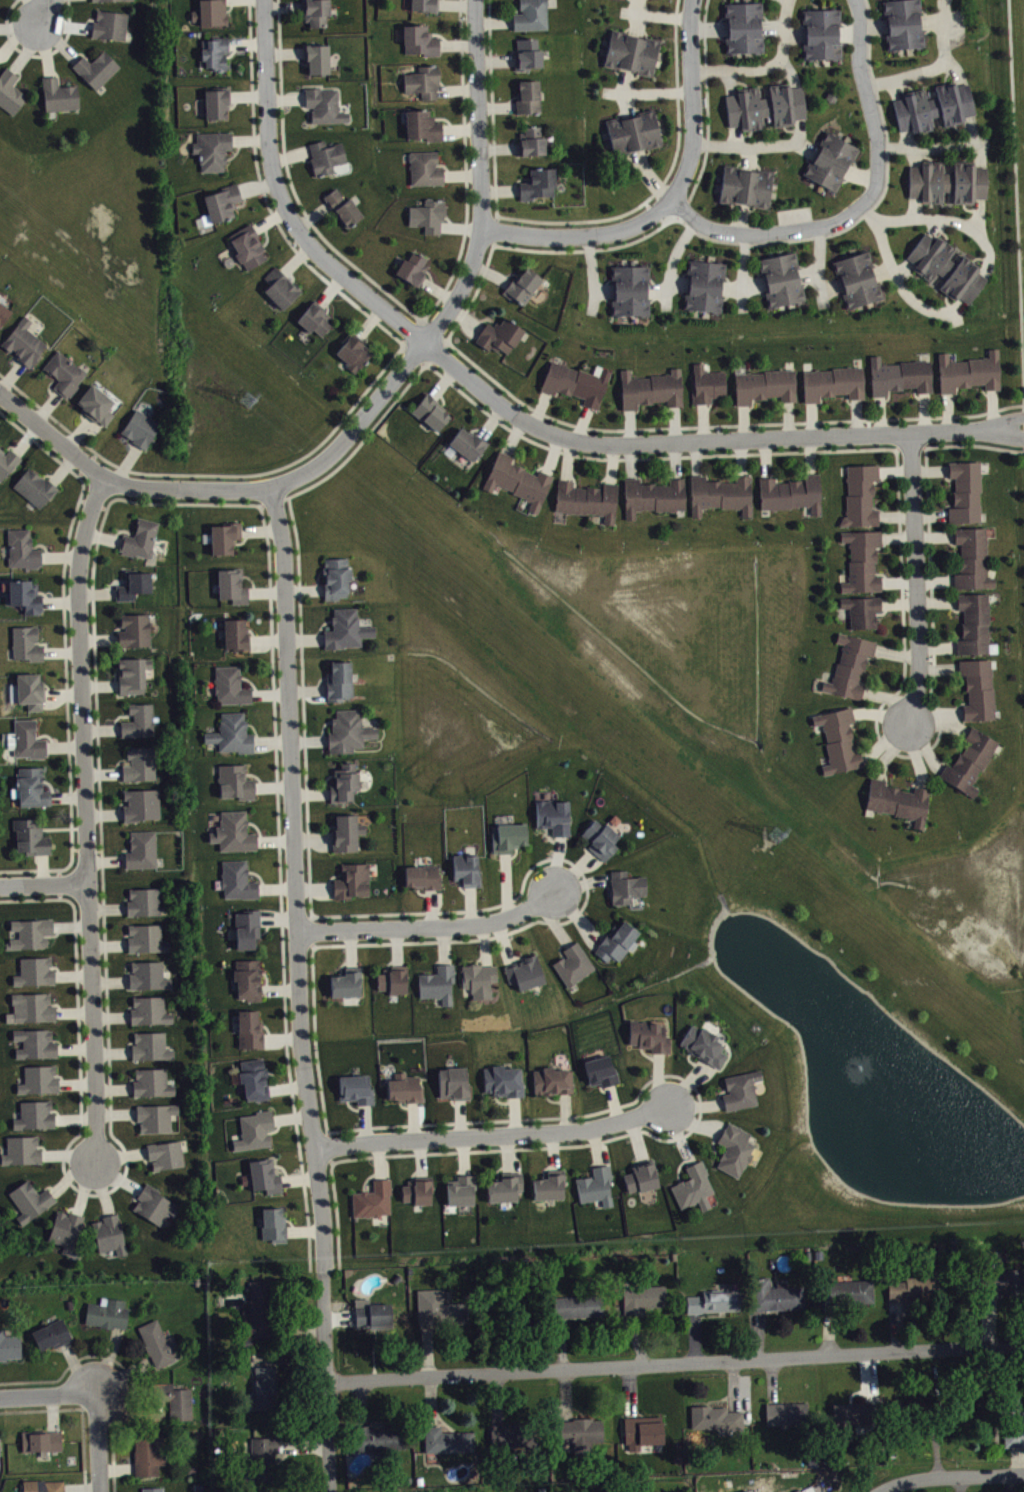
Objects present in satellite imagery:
building: (115, 2)
building: (424, 5)
road: (45, 10)
building: (315, 11)
building: (210, 12)
building: (530, 15)
road: (655, 15)
road: (636, 17)
road: (931, 22)
building: (902, 23)
building: (109, 24)
road: (873, 24)
building: (743, 25)
road: (708, 26)
road: (772, 27)
building: (820, 33)
road: (849, 33)
road: (793, 34)
building: (419, 39)
building: (214, 51)
building: (631, 51)
building: (527, 53)
road: (36, 54)
building: (316, 57)
road: (766, 65)
building: (95, 67)
road: (933, 67)
road: (790, 69)
road: (955, 69)
road: (626, 79)
building: (422, 80)
road: (730, 81)
road: (896, 88)
building: (10, 90)
road: (640, 91)
building: (58, 94)
building: (528, 96)
building: (216, 101)
road: (627, 103)
building: (324, 104)
building: (765, 105)
road: (707, 106)
building: (933, 106)
building: (422, 124)
road: (971, 128)
building: (633, 131)
road: (905, 138)
building: (531, 141)
road: (743, 146)
road: (756, 146)
road: (806, 146)
road: (933, 147)
building: (211, 149)
road: (979, 153)
building: (325, 156)
road: (915, 156)
building: (830, 160)
building: (424, 167)
road: (862, 173)
road: (650, 176)
building: (947, 181)
building: (538, 182)
building: (744, 185)
road: (672, 197)
building: (221, 202)
road: (863, 202)
road: (872, 205)
building: (342, 207)
building: (428, 214)
road: (979, 216)
road: (739, 218)
road: (945, 219)
road: (571, 220)
road: (934, 226)
road: (480, 232)
building: (247, 245)
road: (672, 260)
road: (818, 265)
road: (903, 265)
building: (946, 267)
building: (412, 268)
road: (984, 269)
road: (742, 272)
road: (593, 273)
road: (808, 273)
road: (897, 276)
building: (781, 278)
building: (857, 278)
road: (677, 284)
building: (522, 285)
building: (704, 285)
road: (830, 285)
building: (279, 286)
road: (743, 286)
building: (629, 289)
road: (657, 290)
road: (603, 291)
road: (404, 305)
road: (957, 306)
building: (3, 312)
building: (314, 317)
building: (499, 334)
building: (23, 342)
building: (353, 351)
building: (968, 371)
building: (64, 373)
building: (899, 375)
road: (375, 377)
building: (576, 382)
building: (832, 382)
building: (707, 383)
building: (764, 385)
building: (650, 388)
power tower: (247, 399)
building: (95, 404)
building: (430, 411)
road: (513, 412)
road: (1023, 415)
road: (776, 422)
road: (376, 423)
building: (140, 428)
building: (467, 442)
building: (7, 461)
building: (517, 479)
building: (34, 486)
road: (172, 488)
building: (964, 491)
building: (790, 492)
building: (720, 493)
building: (653, 495)
building: (860, 495)
building: (586, 498)
building: (224, 536)
building: (139, 538)
building: (22, 548)
building: (971, 558)
building: (862, 560)
building: (334, 576)
road: (916, 578)
building: (133, 584)
building: (231, 584)
road: (93, 593)
building: (24, 595)
building: (862, 609)
building: (973, 622)
building: (345, 628)
building: (133, 629)
building: (235, 633)
building: (26, 642)
road: (66, 652)
building: (850, 665)
building: (132, 673)
building: (338, 680)
building: (229, 685)
building: (977, 688)
building: (30, 689)
building: (138, 720)
building: (347, 731)
building: (231, 733)
building: (27, 738)
building: (838, 738)
building: (968, 760)
building: (139, 763)
building: (234, 781)
building: (343, 782)
building: (31, 786)
building: (898, 799)
building: (140, 803)
building: (552, 815)
road: (86, 816)
building: (232, 831)
building: (345, 831)
building: (30, 836)
building: (508, 836)
building: (599, 838)
power tower: (780, 838)
building: (141, 849)
building: (465, 868)
building: (422, 876)
building: (235, 880)
building: (351, 880)
building: (625, 886)
road: (44, 887)
building: (143, 900)
road: (431, 923)
building: (244, 928)
building: (30, 932)
building: (146, 937)
building: (615, 941)
building: (572, 963)
building: (34, 971)
building: (524, 971)
building: (147, 974)
building: (247, 978)
building: (392, 978)
building: (478, 978)
building: (345, 982)
building: (437, 982)
road: (300, 988)
building: (32, 1006)
building: (149, 1010)
building: (248, 1028)
building: (648, 1034)
building: (34, 1042)
building: (703, 1044)
building: (150, 1045)
building: (600, 1070)
building: (38, 1079)
building: (252, 1079)
building: (502, 1080)
building: (551, 1080)
building: (151, 1081)
building: (453, 1082)
building: (404, 1086)
building: (355, 1088)
building: (740, 1088)
building: (34, 1114)
building: (155, 1116)
building: (254, 1129)
road: (489, 1134)
road: (672, 1138)
building: (733, 1149)
building: (20, 1150)
building: (164, 1153)
building: (264, 1175)
building: (640, 1175)
building: (549, 1184)
building: (595, 1185)
building: (504, 1186)
building: (692, 1186)
building: (460, 1189)
building: (416, 1191)
building: (372, 1199)
building: (29, 1200)
building: (153, 1203)
building: (272, 1224)
building: (65, 1229)
building: (109, 1234)
building: (996, 1278)
building: (916, 1286)
building: (846, 1291)
building: (774, 1294)
building: (642, 1297)
building: (715, 1300)
building: (577, 1305)
building: (438, 1306)
building: (259, 1310)
building: (106, 1312)
building: (372, 1313)
building: (51, 1333)
building: (157, 1342)
building: (9, 1345)
road: (679, 1362)
road: (124, 1365)
building: (263, 1388)
road: (49, 1395)
building: (173, 1399)
building: (932, 1408)
road: (22, 1409)
building: (858, 1411)
building: (786, 1412)
building: (716, 1417)
building: (1012, 1419)
road: (83, 1430)
building: (642, 1430)
building: (581, 1432)
building: (512, 1434)
building: (378, 1437)
building: (40, 1439)
building: (447, 1439)
road: (100, 1442)
building: (1, 1450)
building: (146, 1453)
building: (262, 1456)
road: (950, 1475)
building: (42, 1485)
building: (151, 1488)
building: (745, 1490)
building: (781, 1491)

